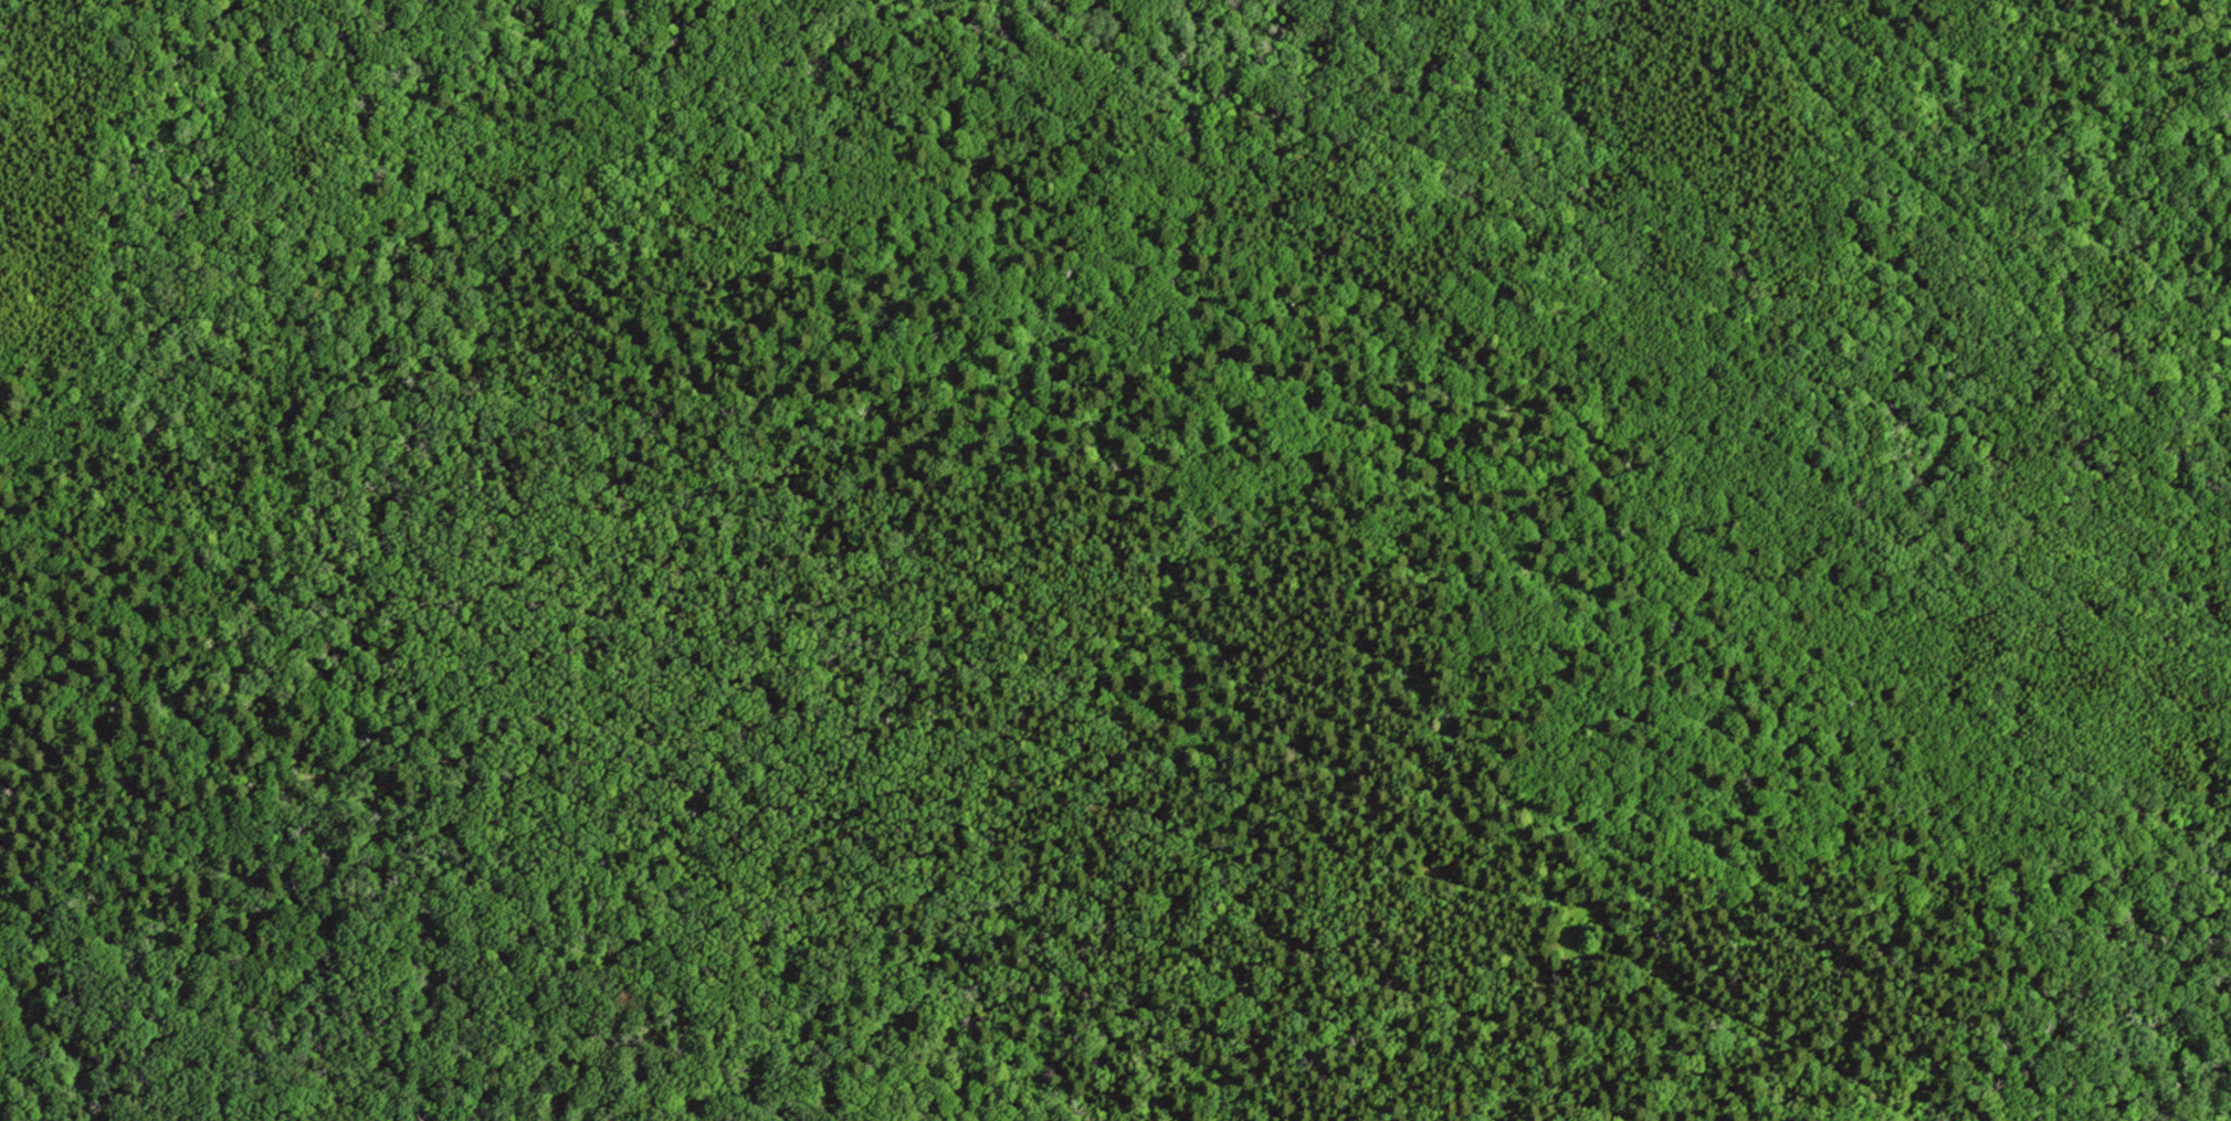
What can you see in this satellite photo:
road: (2001, 253)
road: (1338, 698)
road: (1770, 1027)

